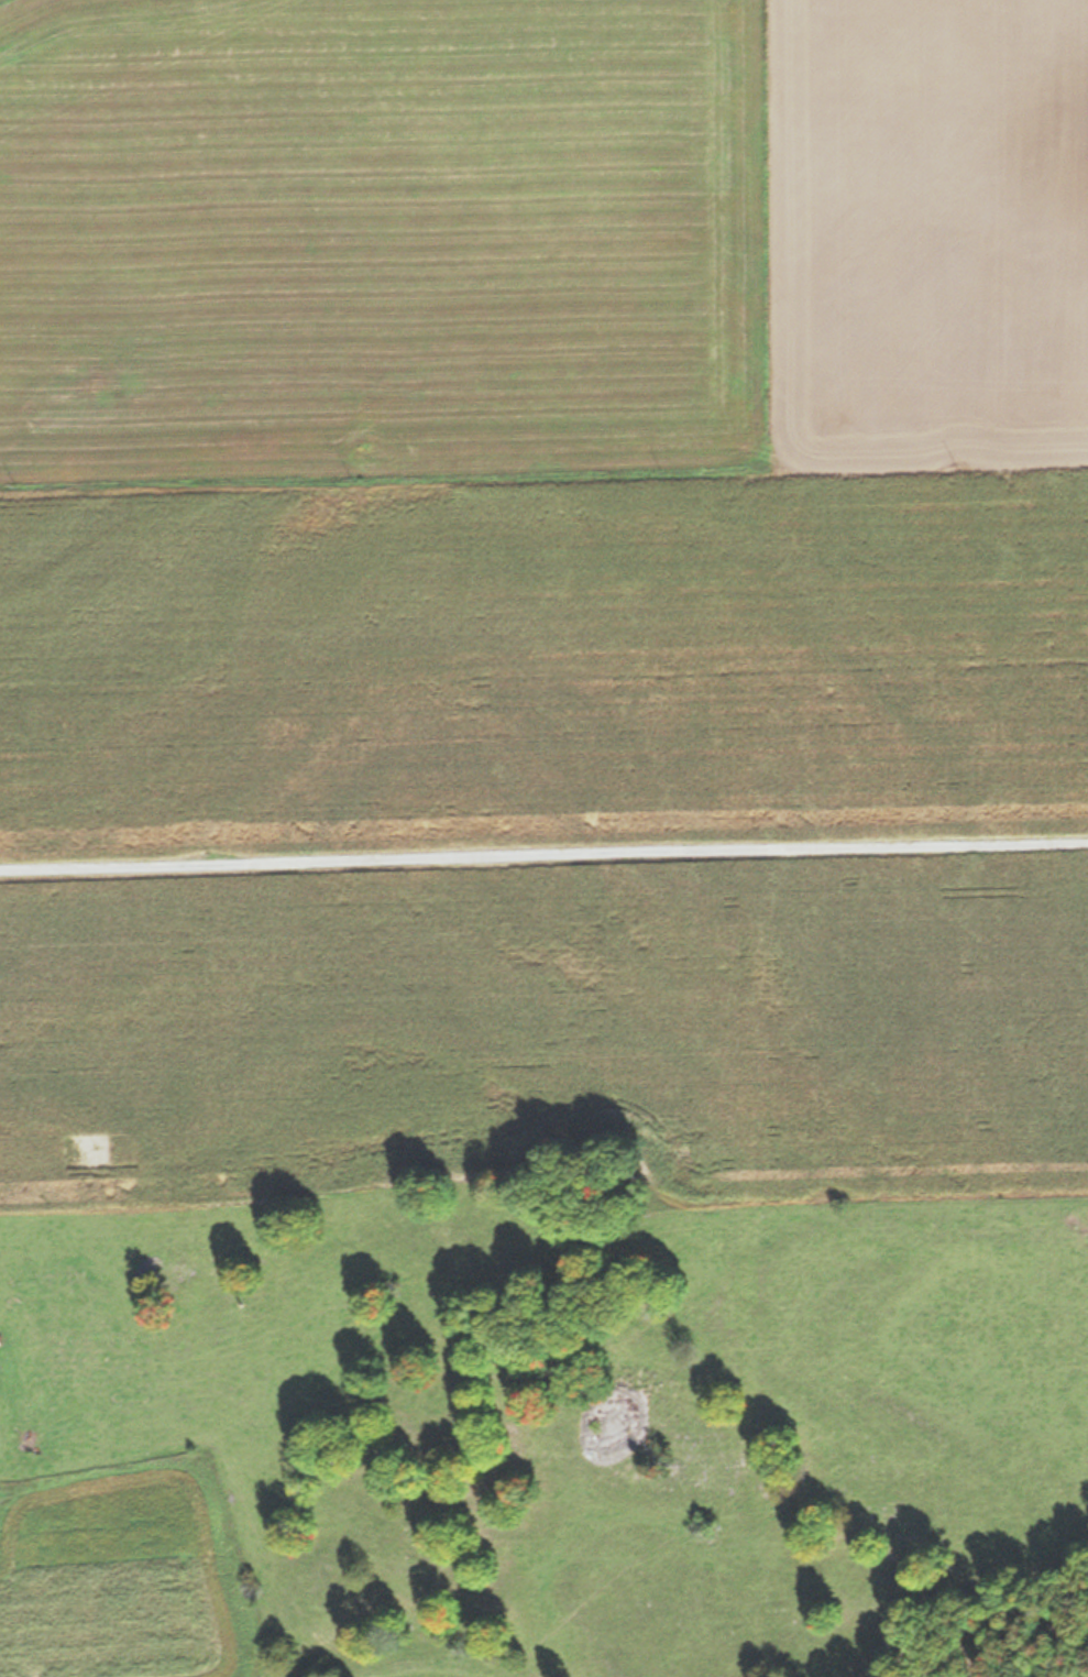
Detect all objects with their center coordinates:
road: (543, 855)

